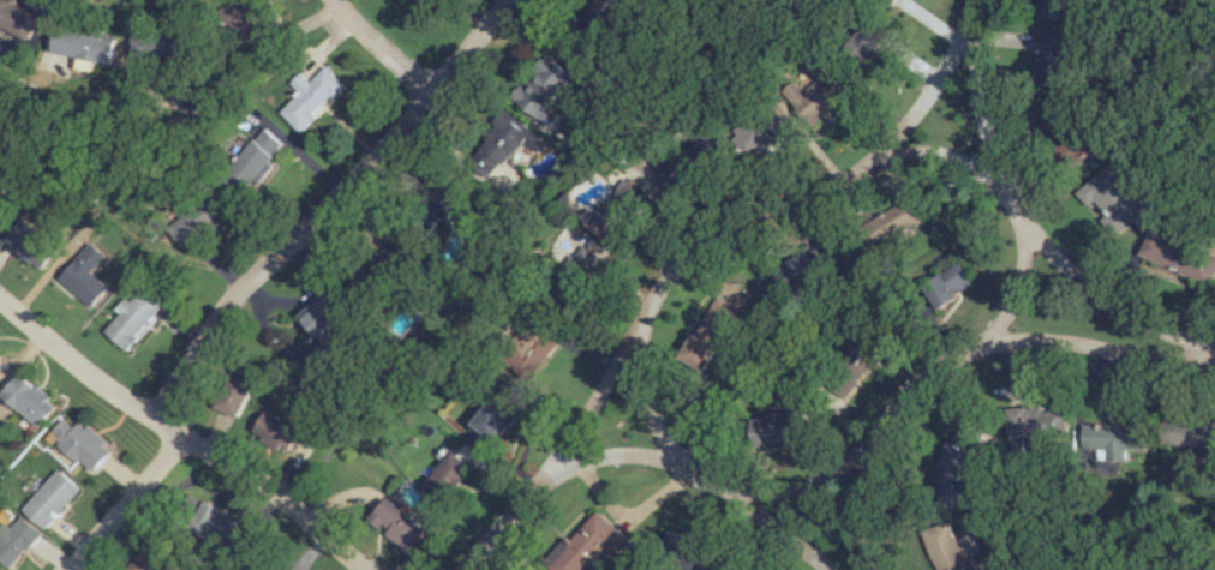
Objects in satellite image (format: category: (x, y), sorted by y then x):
building: (1052, 10)
building: (599, 14)
building: (244, 17)
building: (872, 42)
building: (84, 43)
building: (160, 44)
road: (383, 47)
building: (1048, 60)
building: (546, 90)
building: (310, 97)
building: (764, 133)
building: (1060, 133)
building: (504, 142)
building: (256, 160)
road: (463, 160)
building: (687, 160)
road: (927, 173)
building: (0, 178)
road: (822, 185)
building: (444, 197)
building: (1112, 197)
road: (322, 205)
building: (614, 210)
road: (1023, 220)
building: (197, 221)
building: (29, 242)
building: (1177, 257)
road: (605, 259)
building: (383, 268)
building: (575, 270)
building: (797, 270)
building: (84, 275)
road: (1016, 283)
building: (948, 284)
building: (133, 316)
building: (718, 319)
building: (531, 348)
building: (699, 352)
building: (862, 352)
road: (952, 359)
building: (235, 391)
building: (26, 398)
building: (495, 416)
building: (1034, 425)
building: (778, 428)
building: (277, 430)
building: (1189, 432)
road: (182, 434)
building: (1114, 438)
building: (82, 443)
road: (610, 452)
road: (558, 455)
building: (957, 467)
road: (696, 472)
building: (445, 476)
building: (53, 498)
road: (126, 502)
road: (861, 512)
building: (216, 524)
building: (399, 524)
building: (18, 541)
building: (587, 545)
building: (945, 547)
building: (686, 553)
building: (154, 560)

